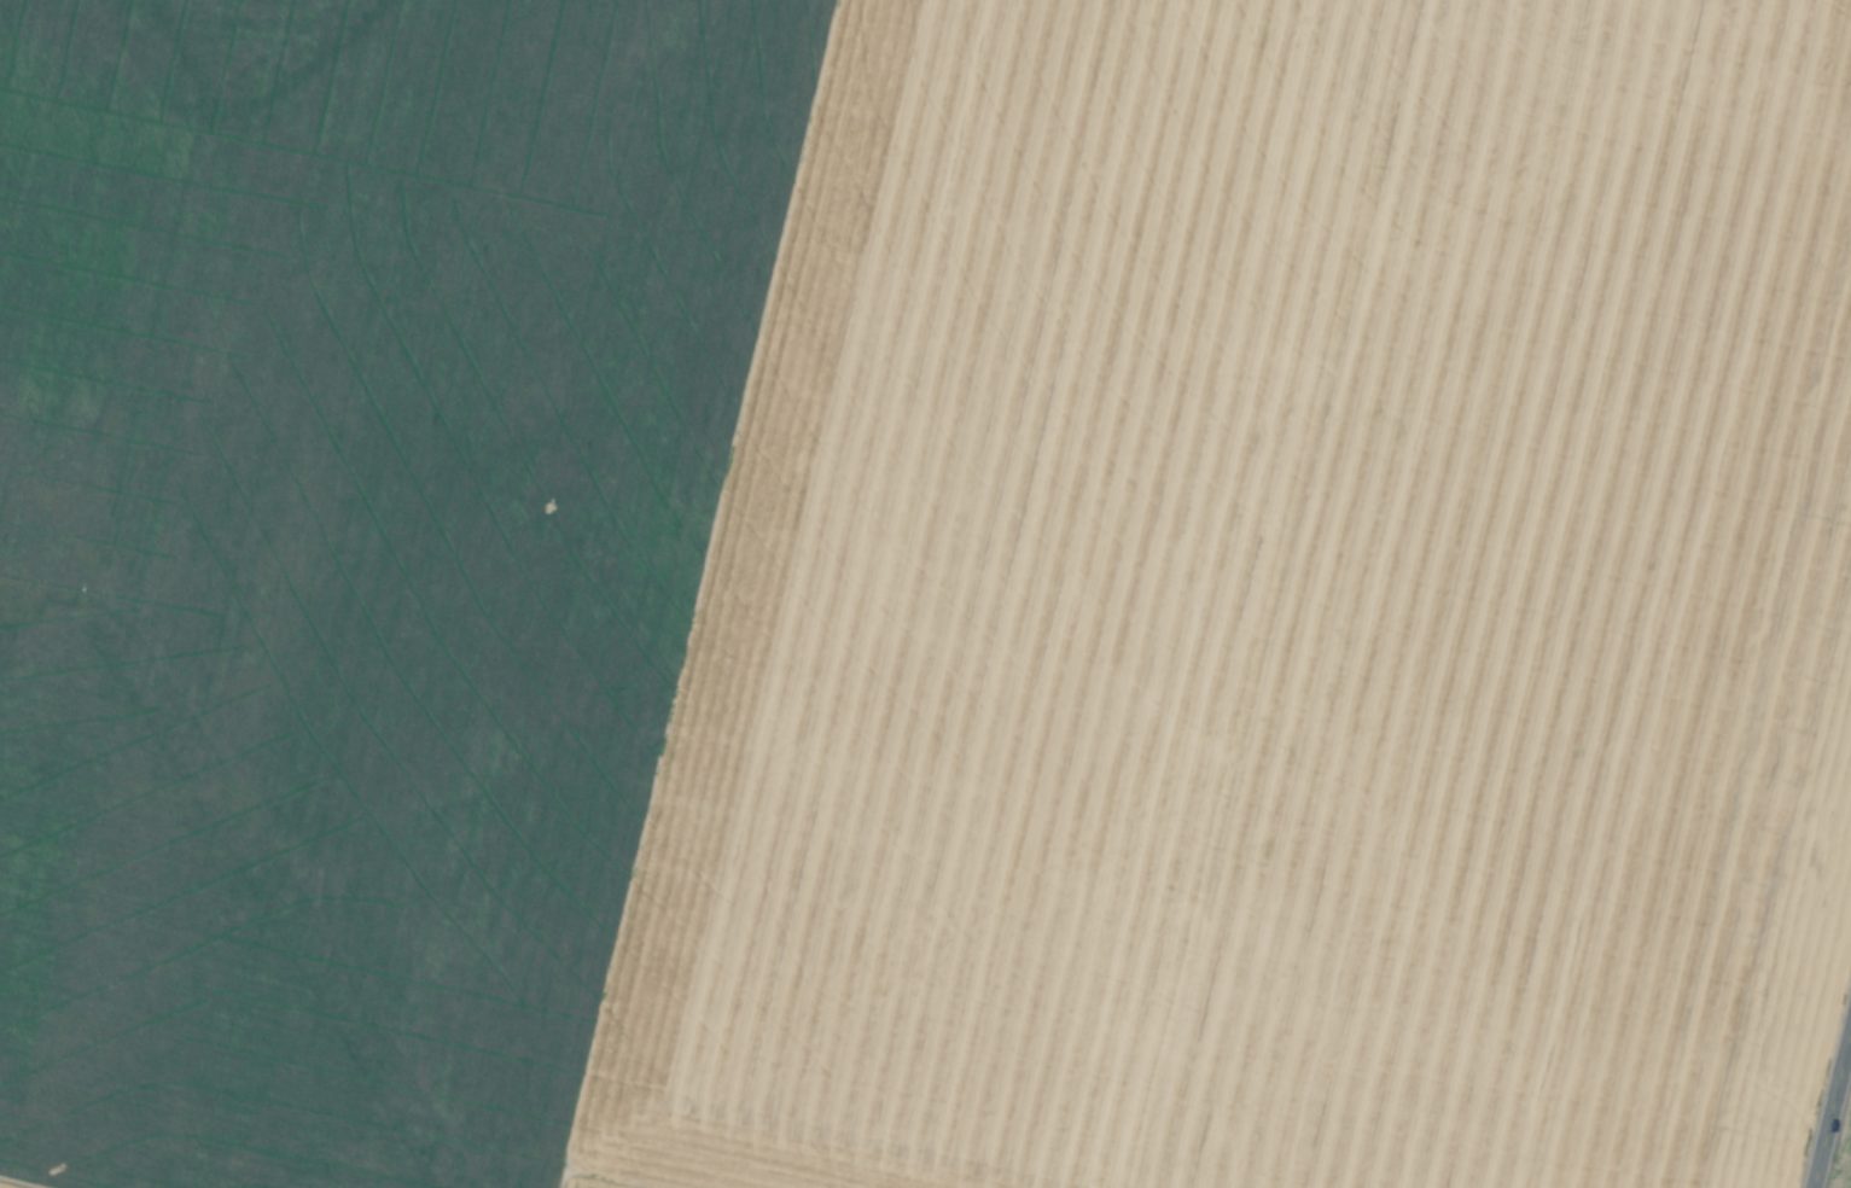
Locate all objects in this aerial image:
crop: (921, 592)
road: (1829, 1097)
crop: (1843, 1155)

